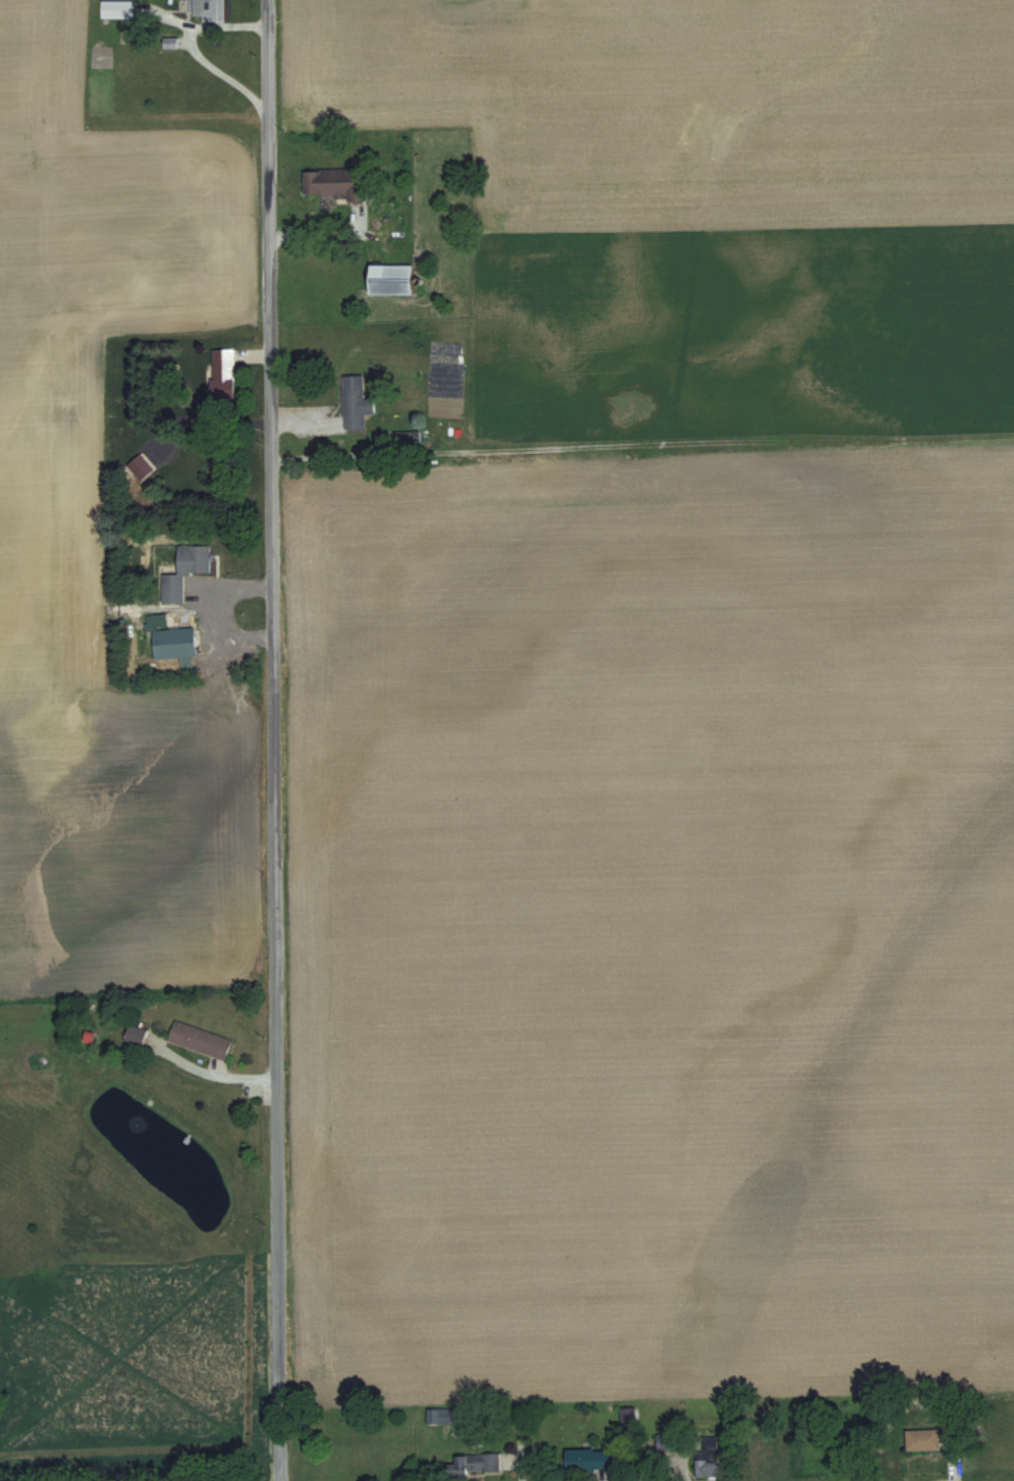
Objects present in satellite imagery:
building: (116, 8)
building: (207, 9)
road: (194, 55)
building: (333, 184)
building: (389, 280)
building: (222, 370)
building: (354, 402)
building: (140, 467)
building: (184, 569)
road: (233, 590)
building: (173, 641)
road: (272, 740)
building: (135, 1034)
building: (200, 1039)
road: (212, 1077)
building: (440, 1415)
building: (923, 1439)
building: (663, 1442)
building: (708, 1457)
building: (586, 1459)
building: (474, 1463)

